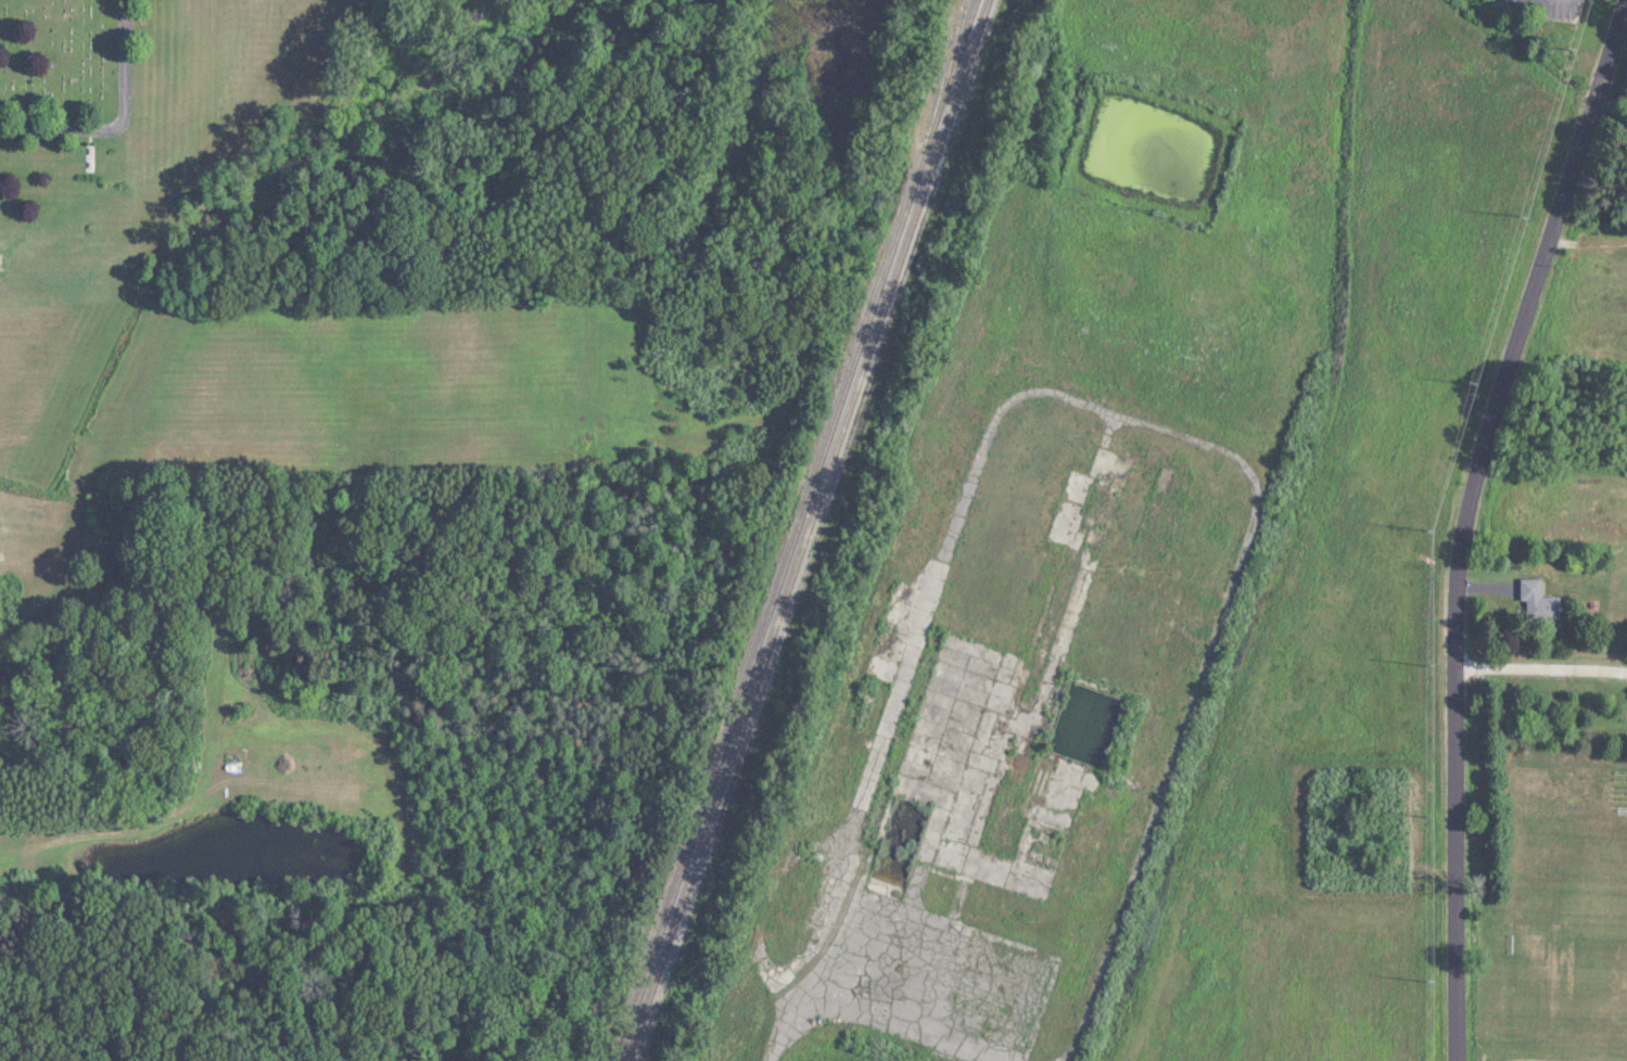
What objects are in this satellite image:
road: (117, 127)
park: (343, 152)
road: (1469, 523)
railway: (796, 530)
railway: (808, 530)
building: (1538, 601)
road: (1542, 686)

